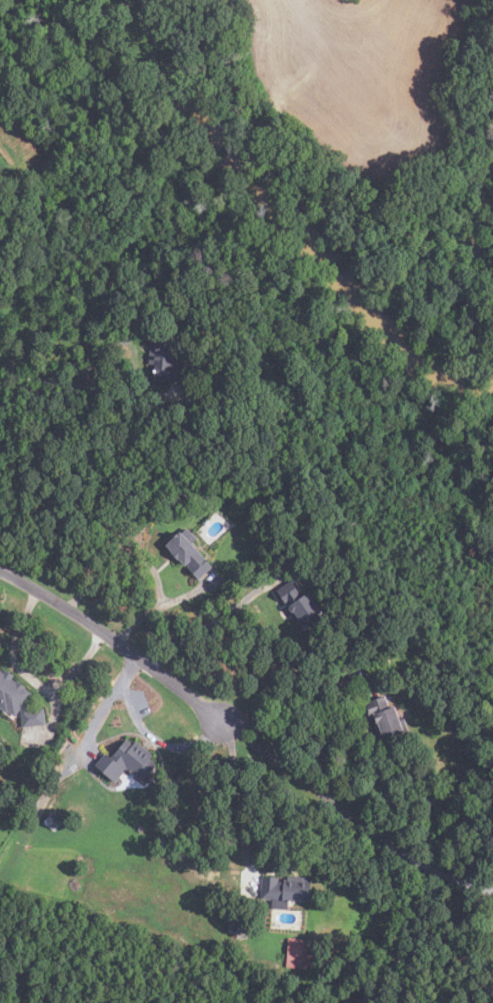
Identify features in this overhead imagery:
crop: (359, 75)
building: (166, 358)
building: (223, 375)
road: (91, 388)
building: (160, 495)
building: (202, 498)
building: (191, 553)
building: (298, 562)
road: (161, 605)
building: (302, 607)
road: (216, 620)
road: (113, 642)
building: (0, 667)
road: (29, 678)
building: (431, 682)
building: (18, 700)
road: (103, 709)
road: (292, 712)
building: (387, 717)
road: (157, 740)
building: (127, 760)
road: (235, 802)
road: (351, 817)
building: (54, 819)
building: (285, 890)
building: (240, 923)
building: (298, 952)

